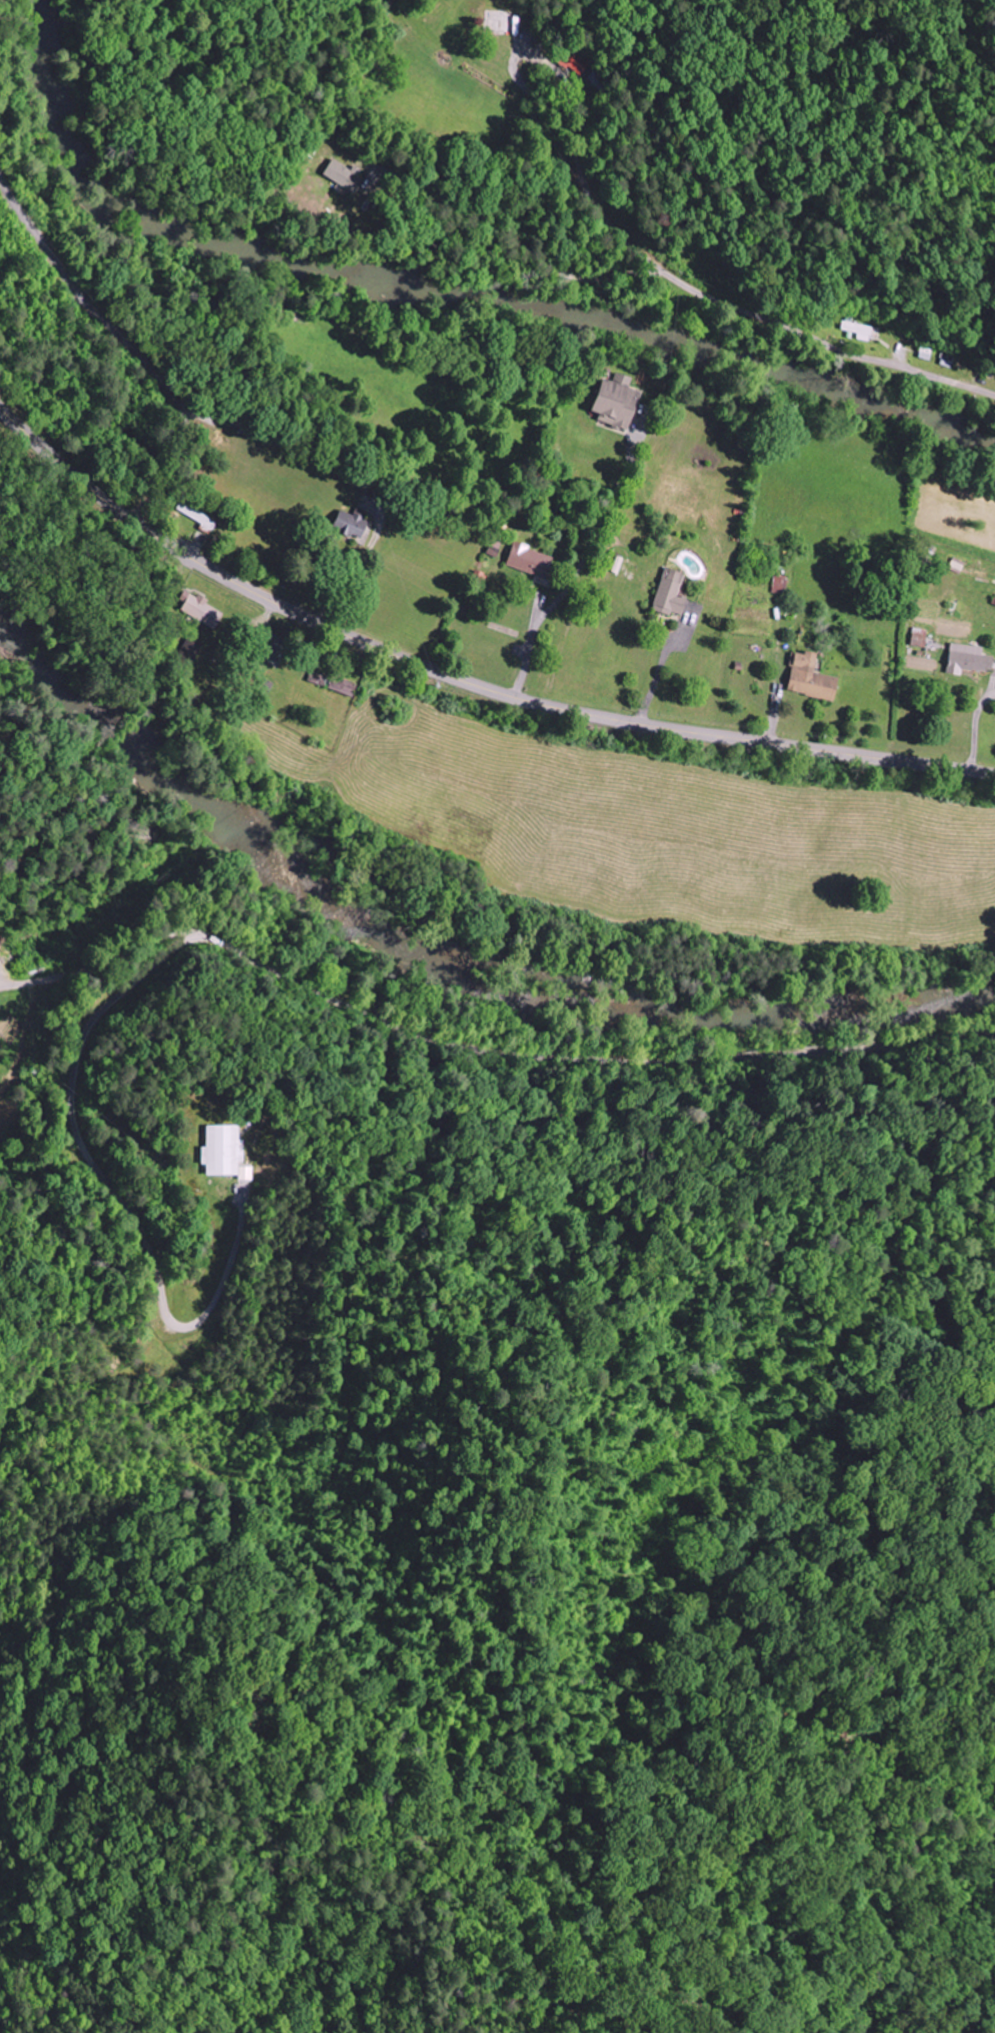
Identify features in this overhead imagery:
building: (575, 62)
building: (344, 176)
road: (577, 264)
road: (715, 297)
river: (446, 298)
building: (860, 330)
road: (125, 341)
building: (616, 402)
building: (242, 425)
building: (354, 527)
building: (530, 561)
building: (781, 584)
building: (670, 594)
building: (994, 603)
building: (202, 612)
building: (918, 638)
building: (967, 660)
building: (810, 678)
road: (461, 680)
building: (343, 687)
river: (447, 954)
building: (220, 1150)
building: (243, 1173)
road: (747, 1291)

